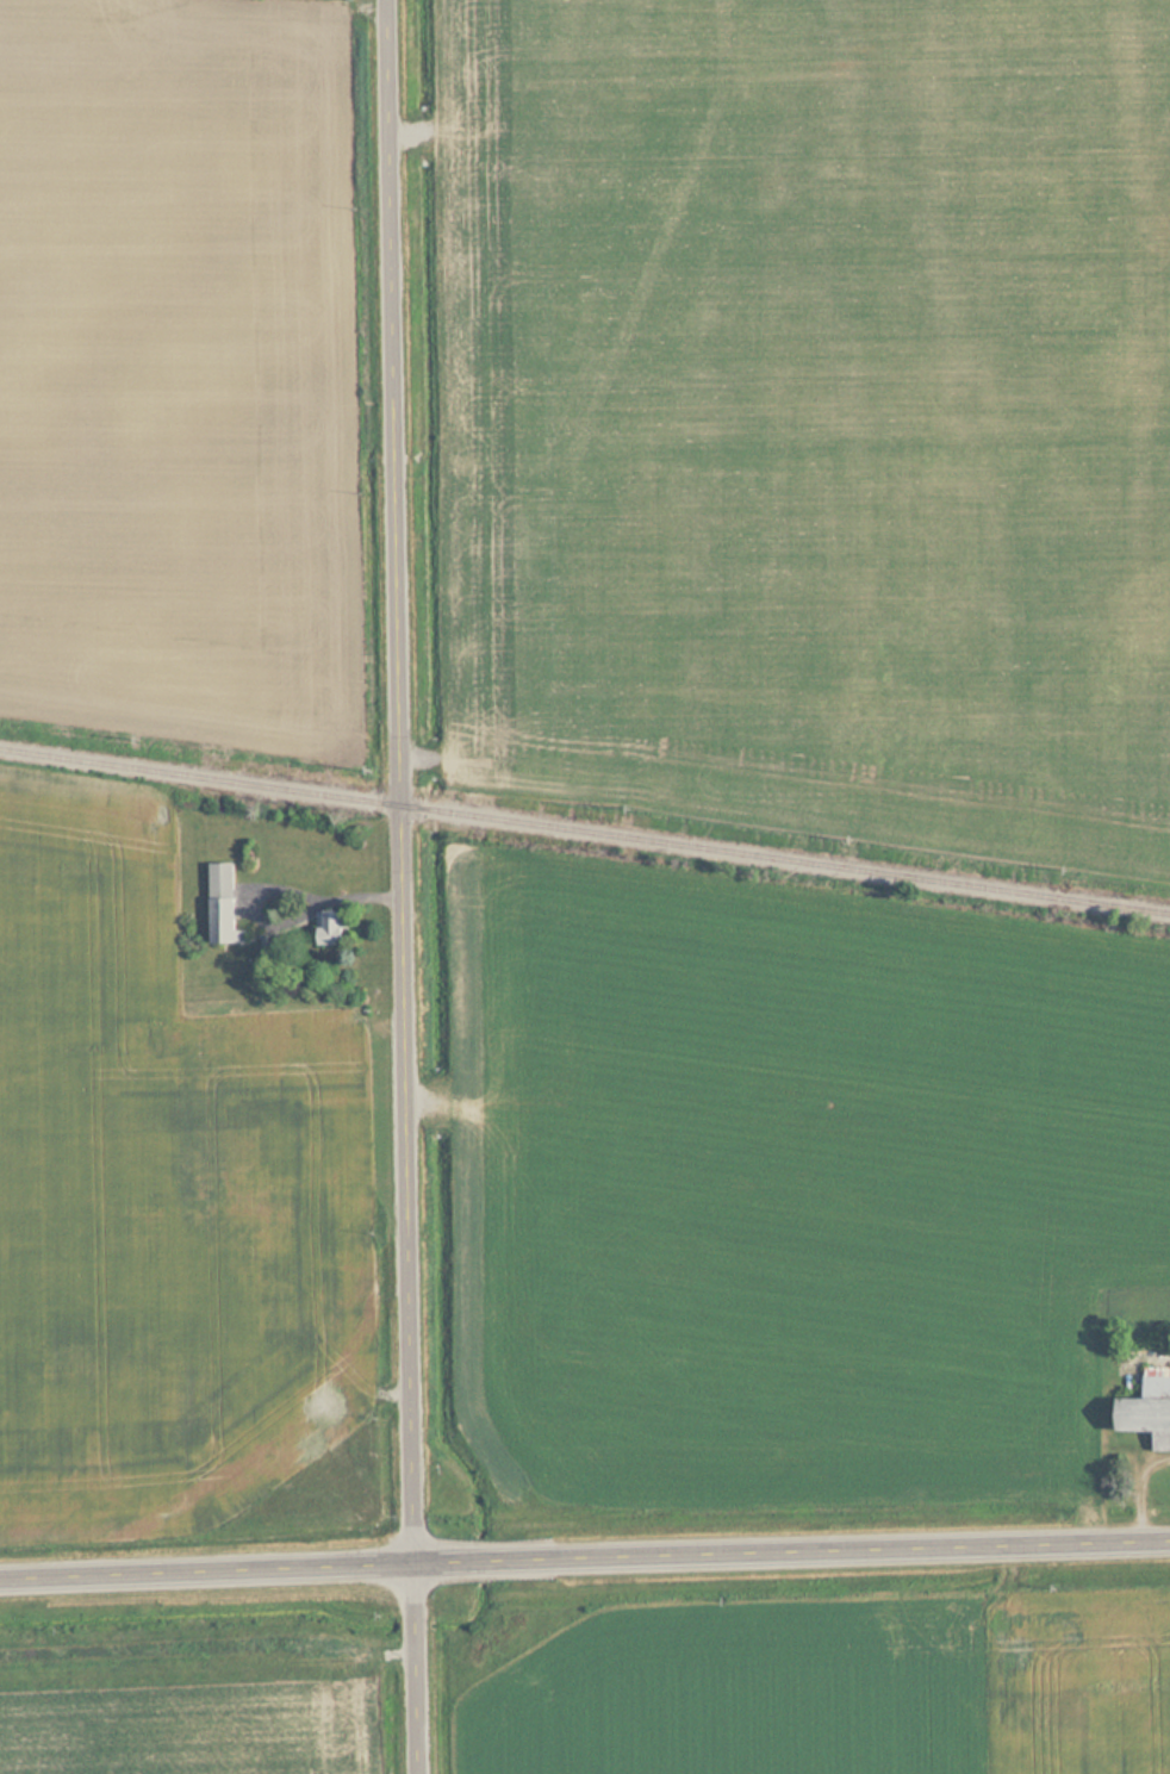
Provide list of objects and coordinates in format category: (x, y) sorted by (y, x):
road: (398, 780)
railway: (585, 830)
building: (225, 903)
building: (335, 928)
building: (1150, 1409)
road: (584, 1556)
road: (419, 1668)

